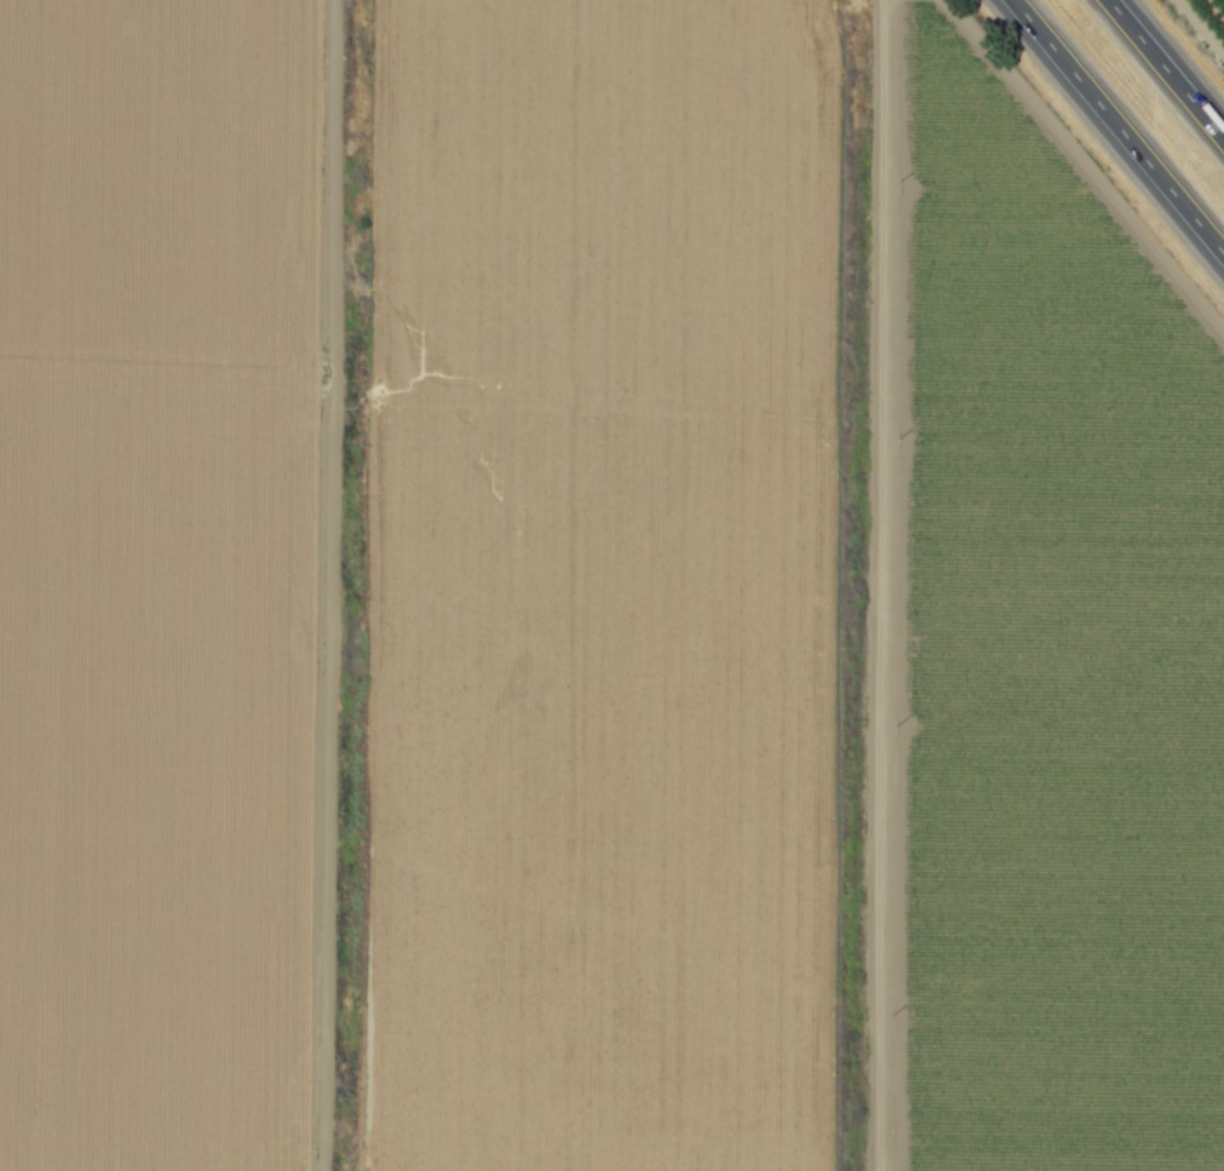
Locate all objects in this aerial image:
road: (1165, 70)
road: (1117, 127)

